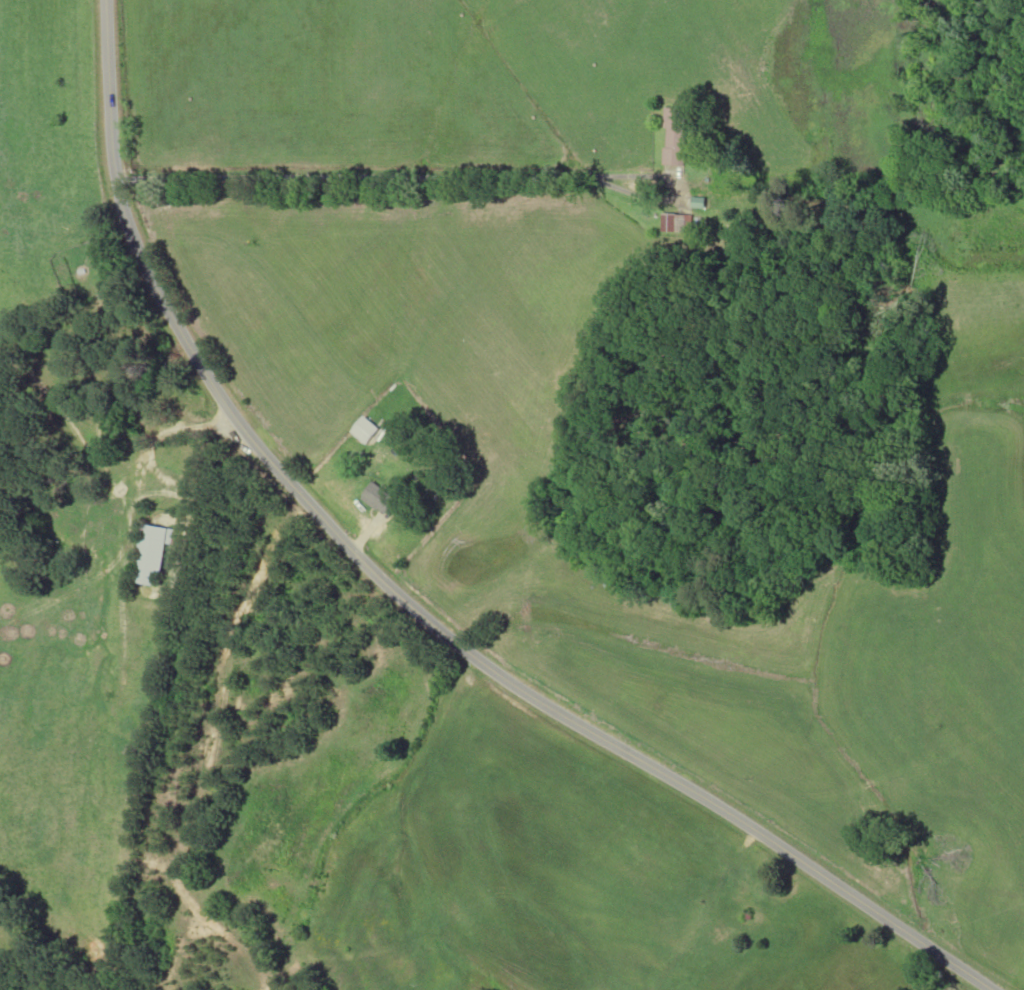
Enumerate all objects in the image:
building: (673, 137)
road: (384, 180)
building: (674, 223)
building: (363, 430)
building: (377, 499)
building: (150, 554)
road: (401, 601)

